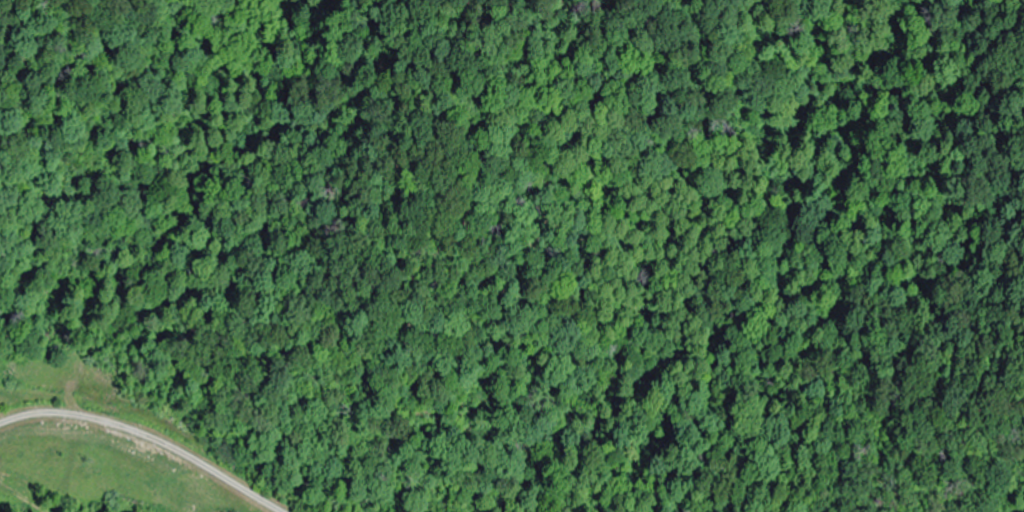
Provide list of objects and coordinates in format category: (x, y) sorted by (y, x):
road: (149, 436)

